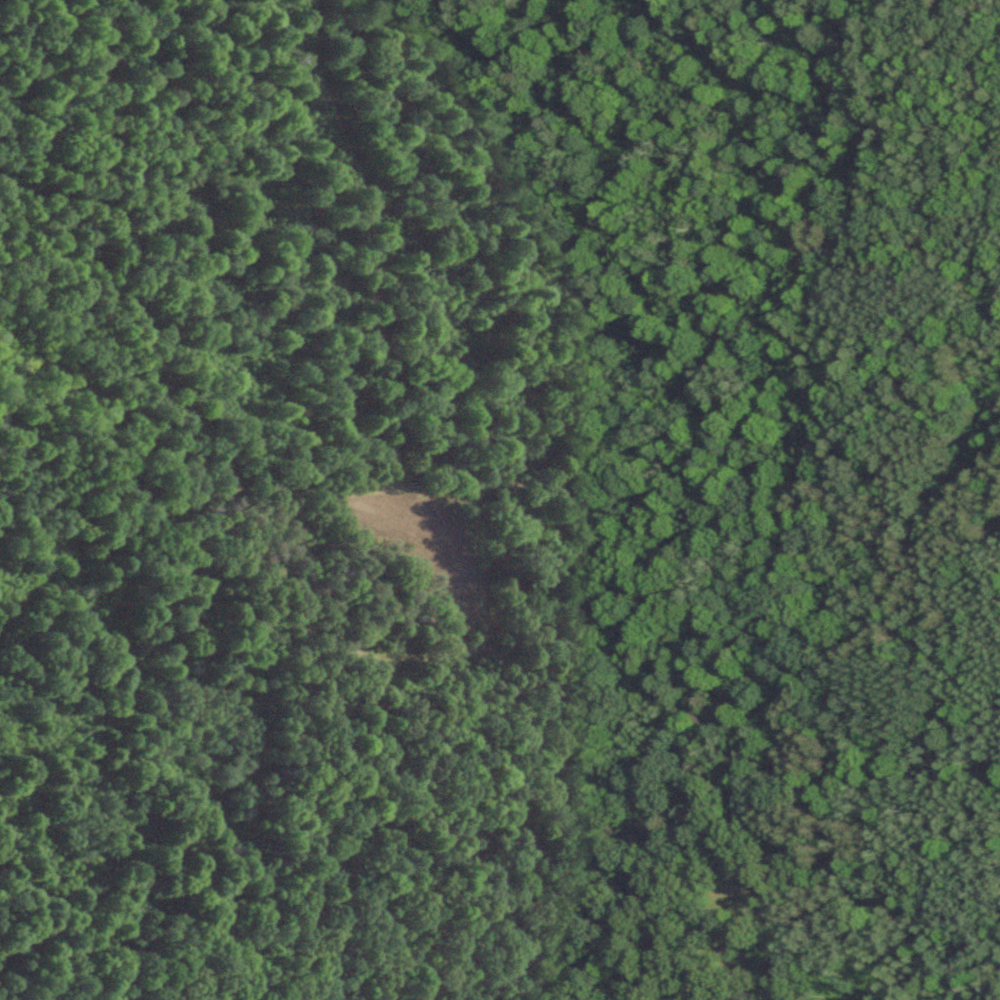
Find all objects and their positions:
building: (988, 778)

